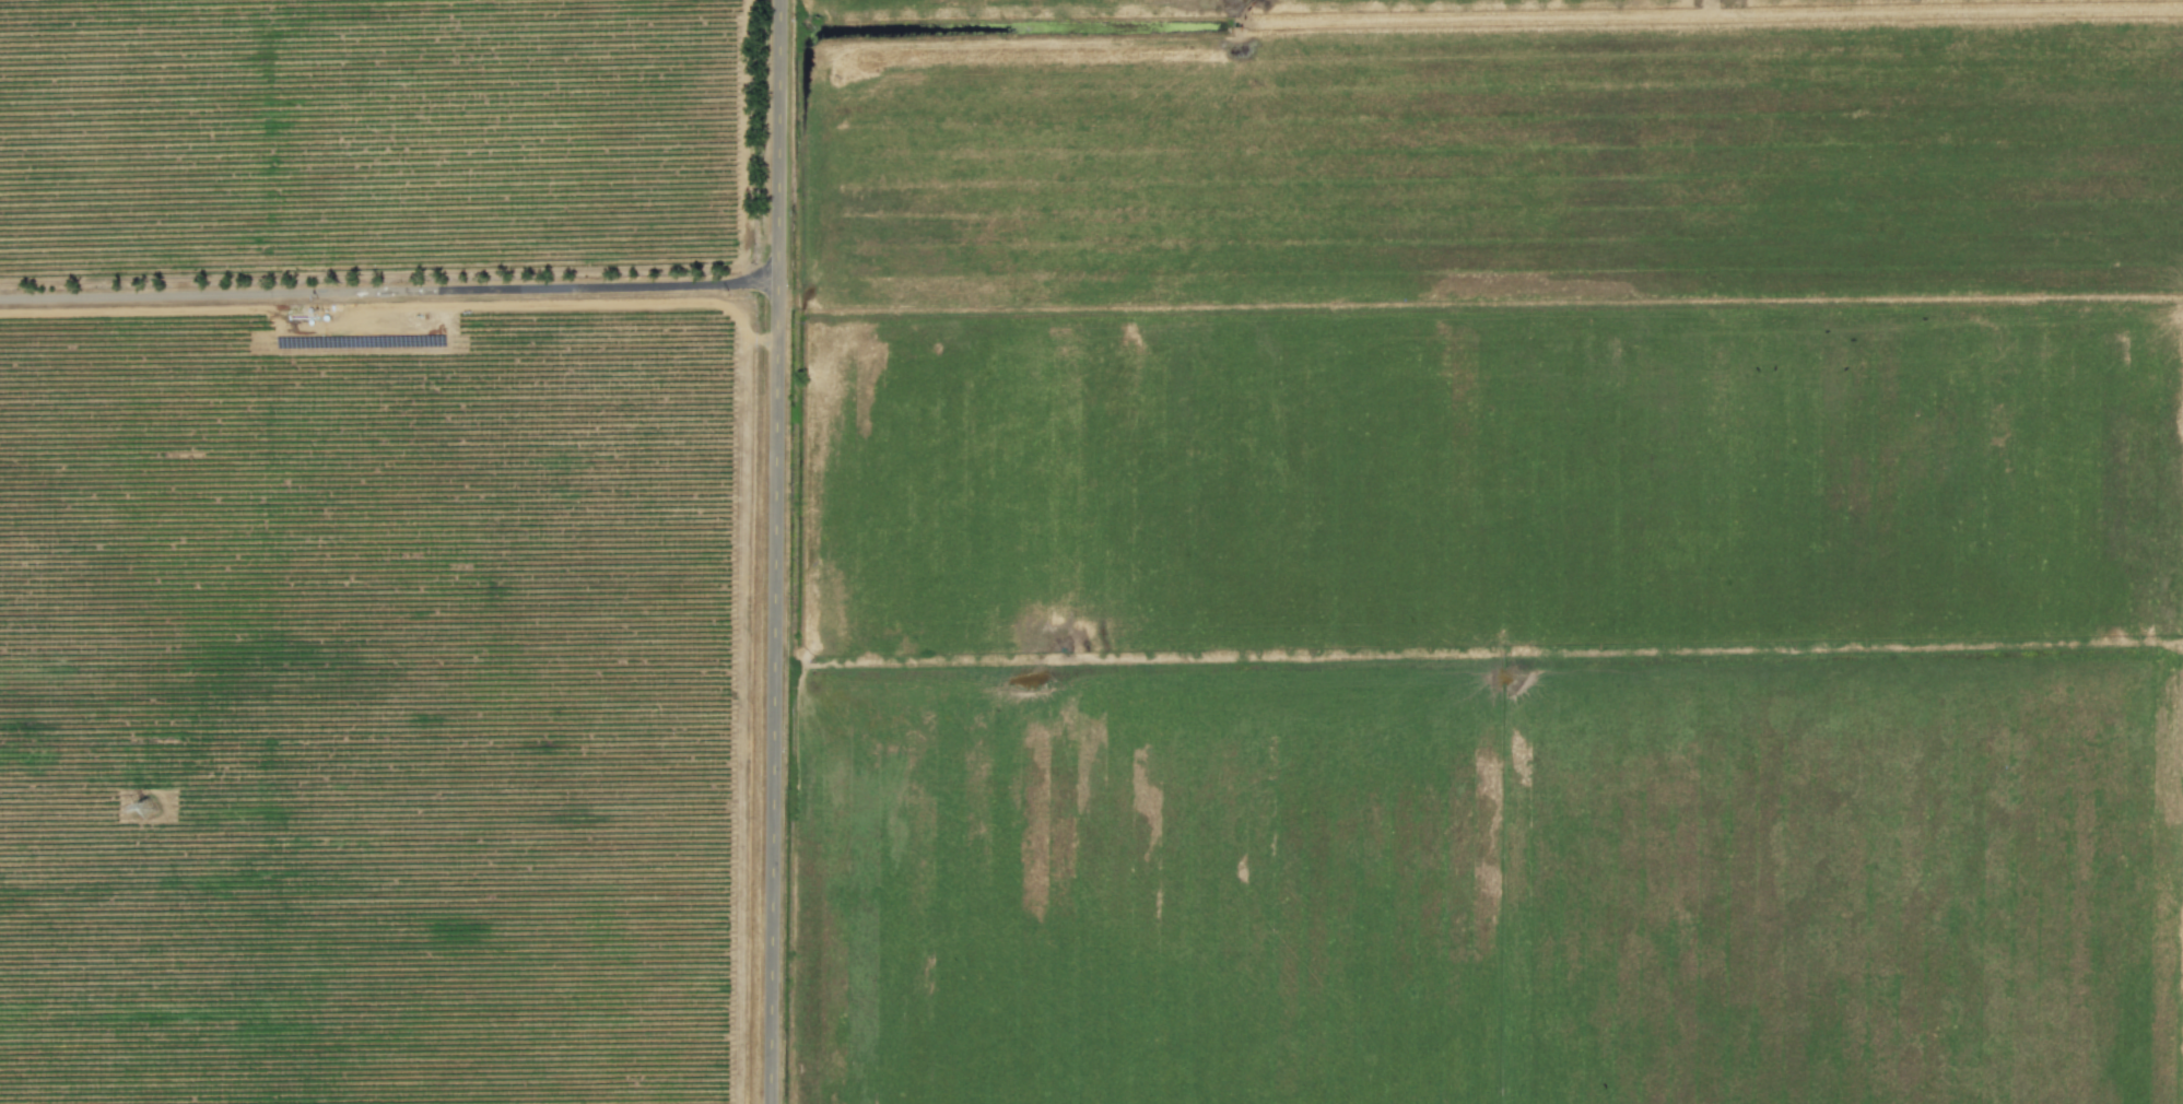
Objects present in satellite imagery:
road: (389, 283)
road: (776, 551)
power tower: (141, 807)

